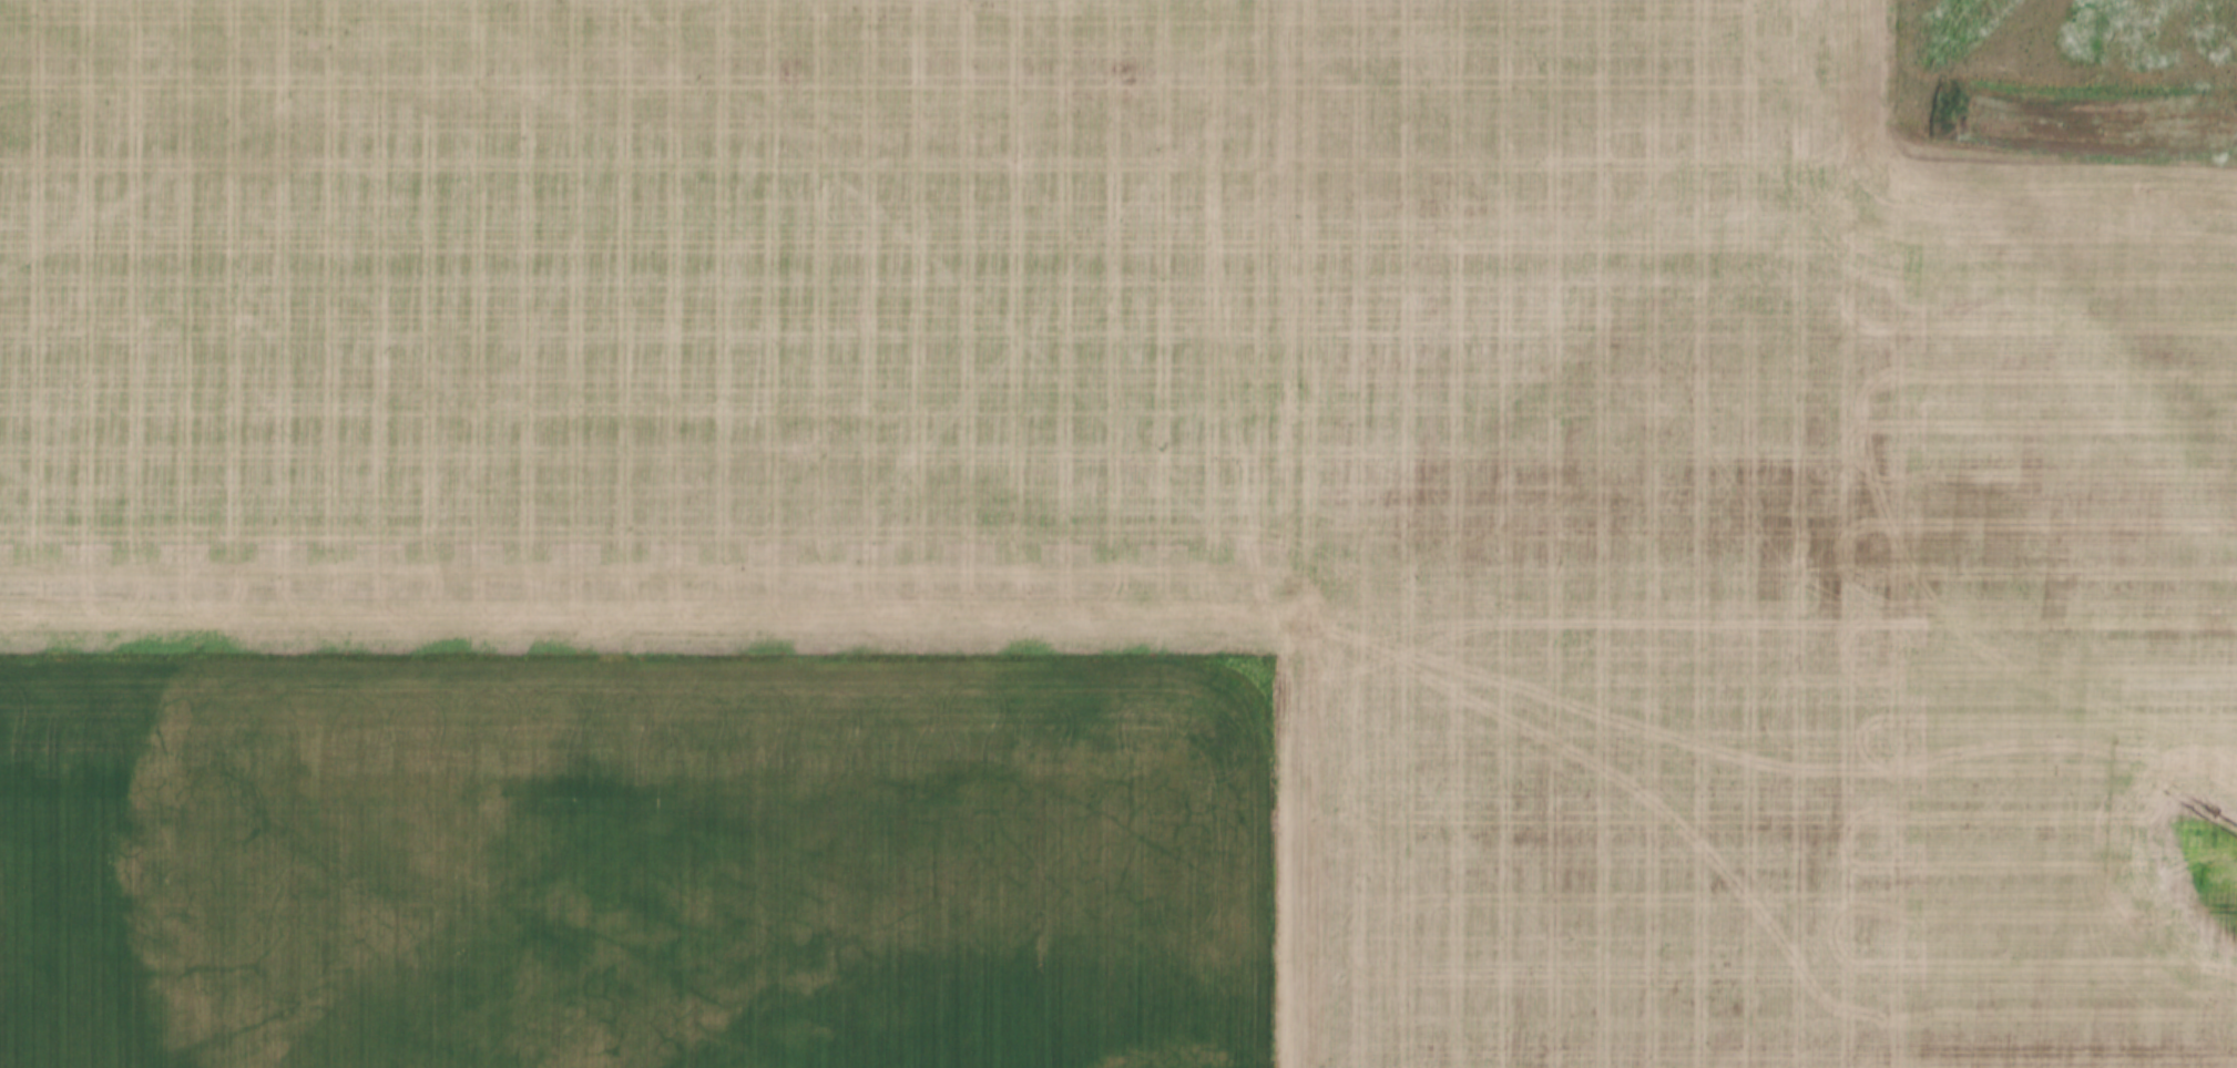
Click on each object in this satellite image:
quarry: (2062, 75)
road: (1300, 533)
road: (1768, 633)

